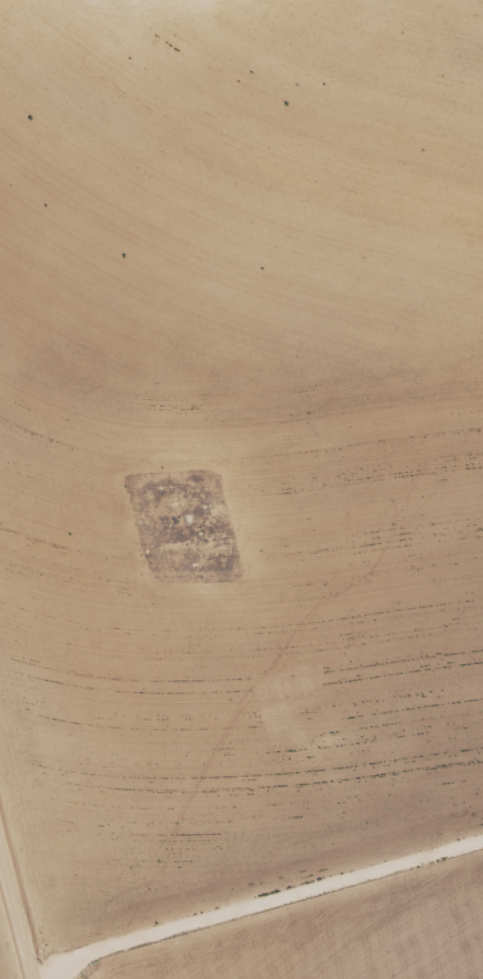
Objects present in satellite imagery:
road: (14, 924)

